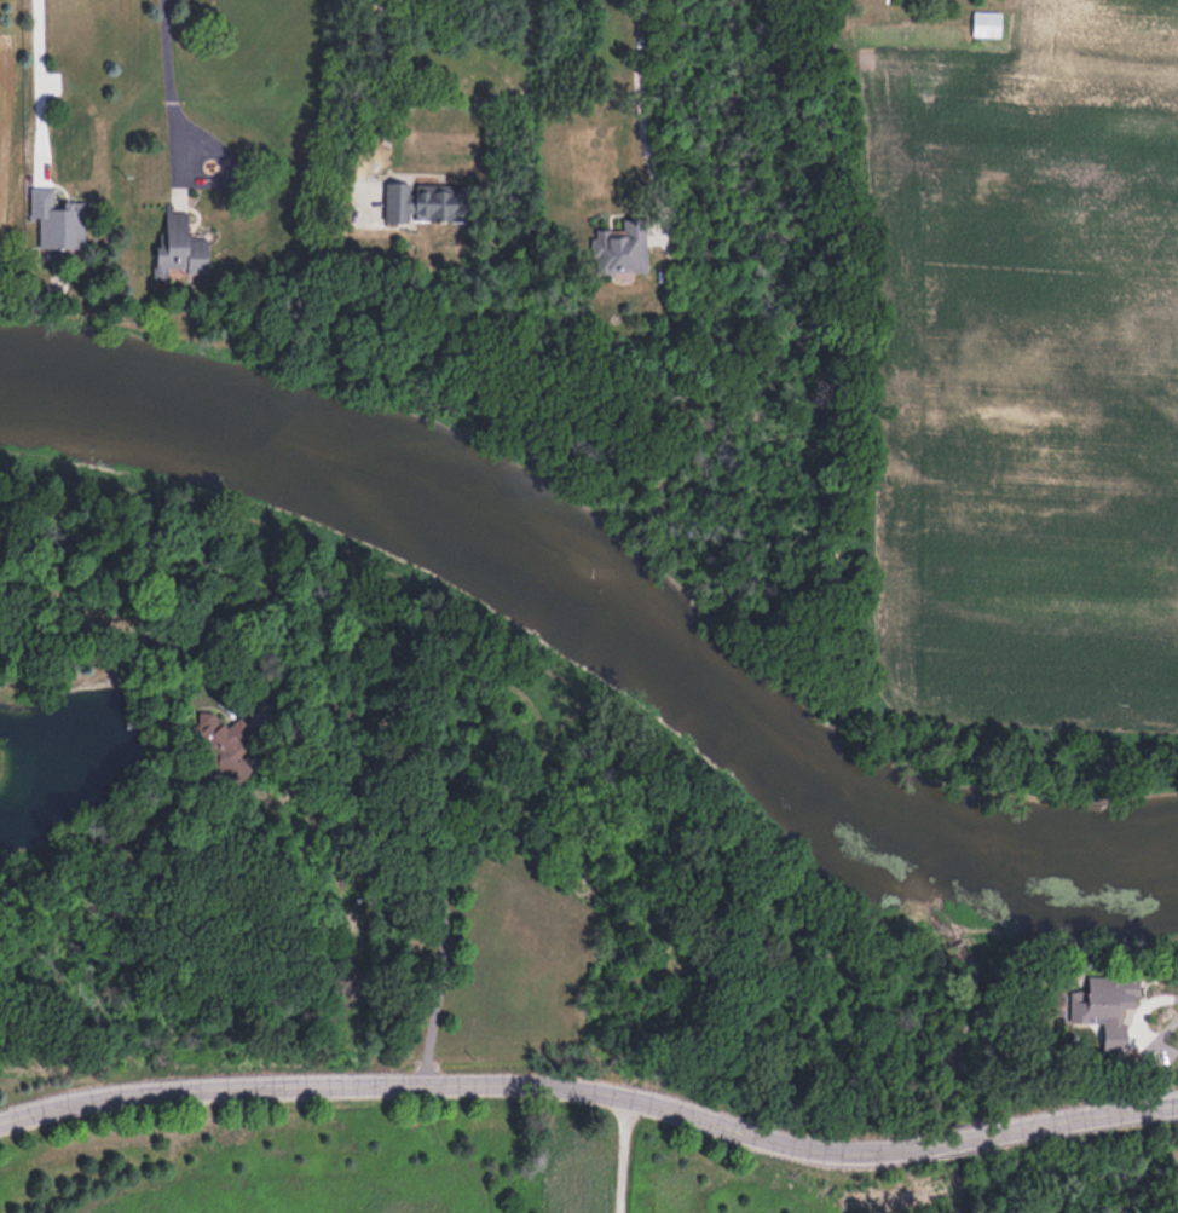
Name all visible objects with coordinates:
building: (984, 23)
road: (167, 53)
road: (36, 63)
road: (359, 108)
road: (641, 111)
building: (422, 203)
building: (56, 219)
building: (178, 246)
building: (619, 247)
river: (604, 611)
building: (206, 727)
building: (1095, 999)
road: (593, 1101)
building: (577, 1186)

